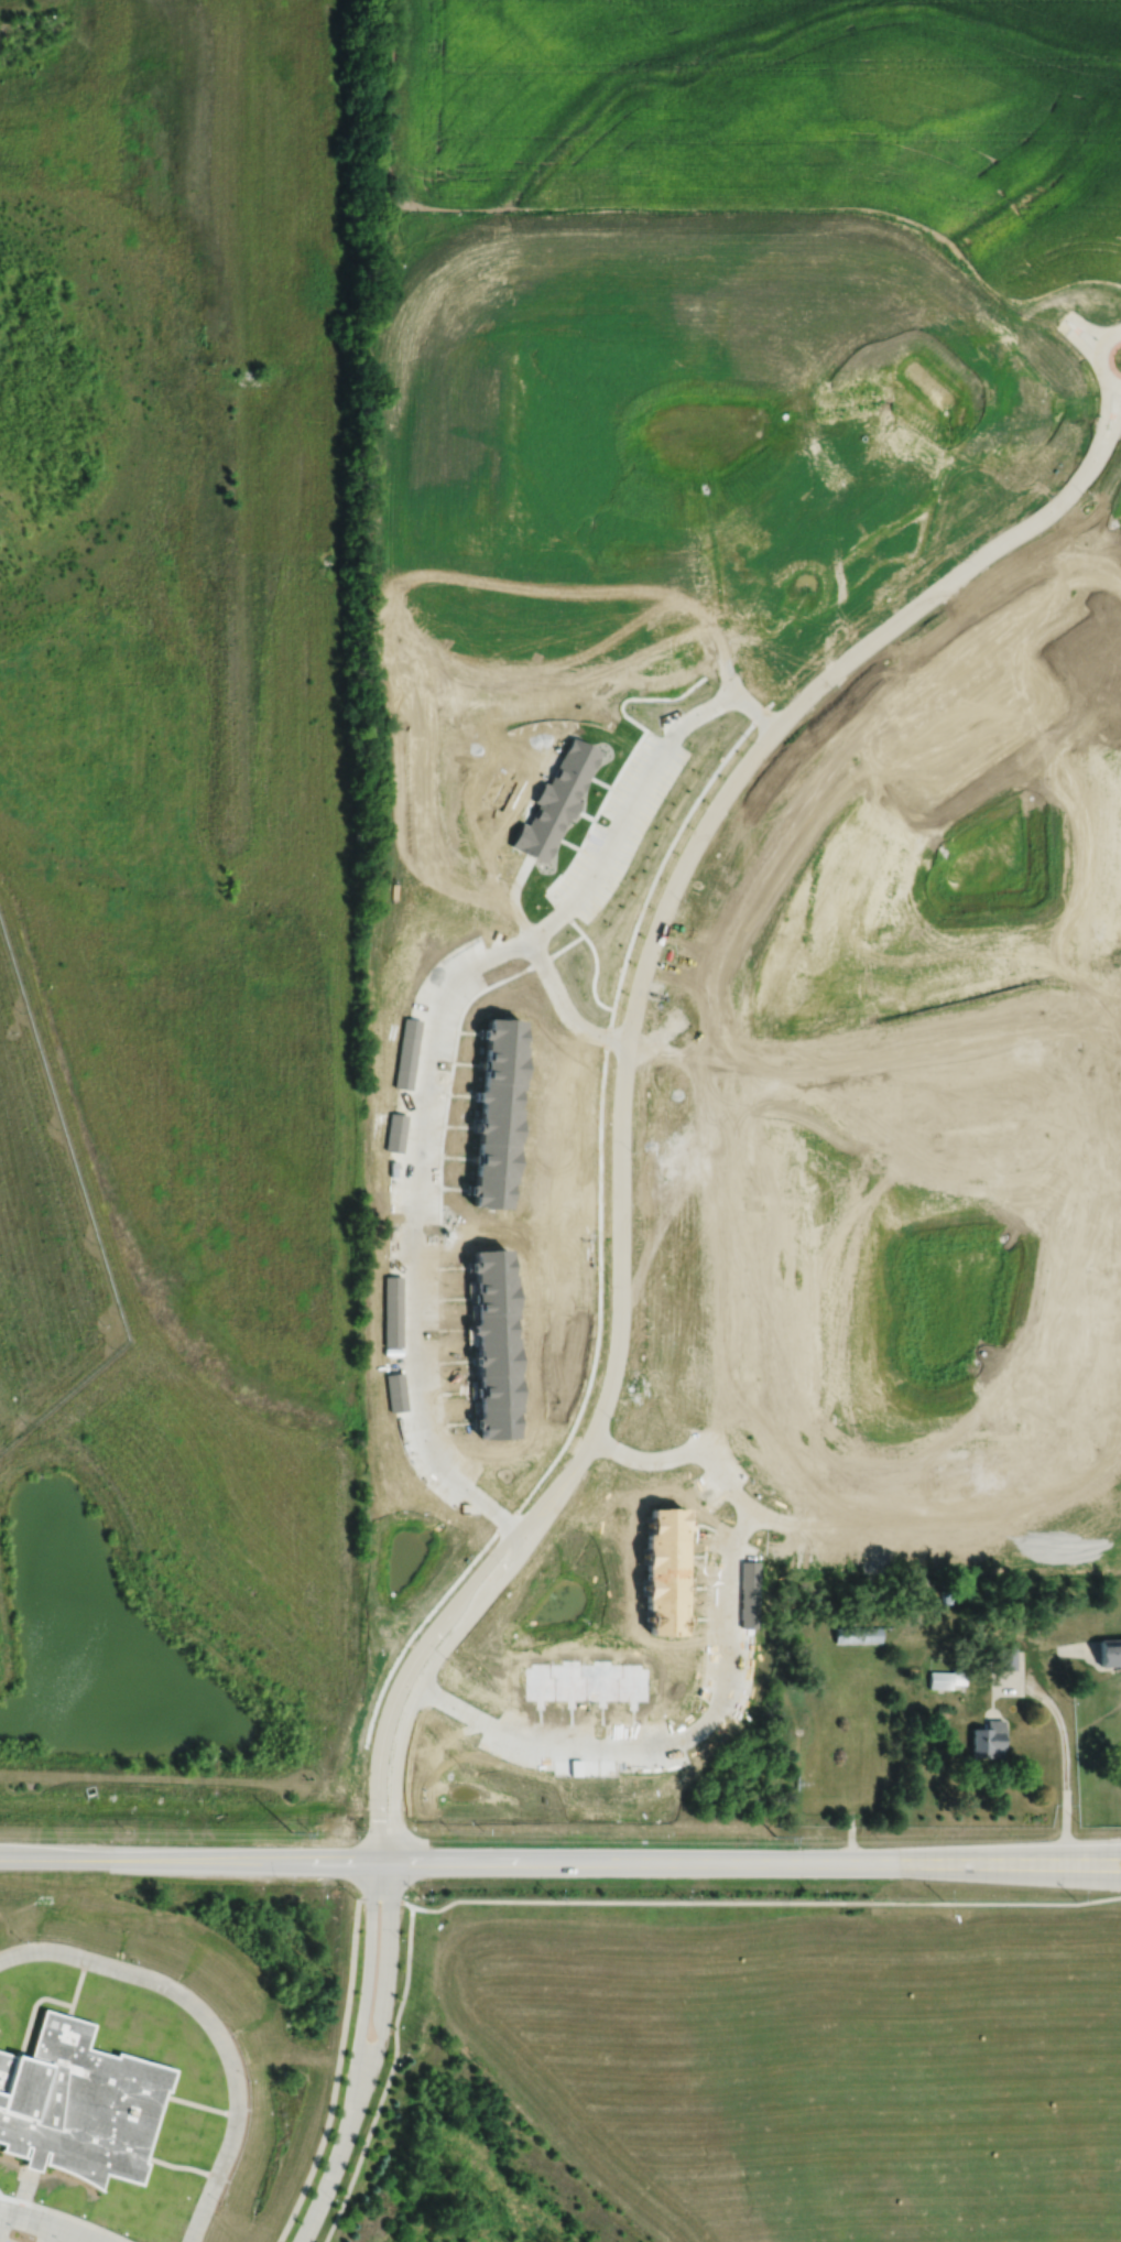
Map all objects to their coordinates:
road: (1087, 326)
road: (1078, 340)
road: (1097, 358)
road: (1104, 411)
road: (1113, 430)
road: (755, 712)
road: (663, 910)
road: (563, 1003)
road: (424, 1066)
road: (904, 1106)
road: (701, 1214)
road: (647, 1458)
road: (977, 1526)
road: (728, 1584)
building: (857, 1634)
road: (1027, 1646)
road: (1065, 1650)
building: (1109, 1655)
building: (1006, 1657)
road: (1032, 1675)
building: (939, 1679)
road: (1015, 1690)
building: (987, 1740)
road: (541, 1742)
road: (1067, 1772)
dam: (160, 1778)
road: (372, 1806)
road: (394, 1817)
road: (852, 1837)
road: (1092, 1855)
road: (56, 1860)
road: (589, 1862)
road: (1091, 1874)
road: (387, 1900)
road: (765, 1902)
road: (80, 1981)
road: (32, 2007)
road: (72, 2008)
road: (211, 2022)
road: (337, 2076)
road: (390, 2079)
building: (81, 2102)
road: (202, 2105)
road: (184, 2165)
building: (35, 2166)
road: (28, 2186)
road: (325, 2188)
road: (11, 2198)
road: (77, 2219)
road: (2, 2220)
road: (46, 2224)
road: (46, 2233)
parking lot: (8, 2238)

